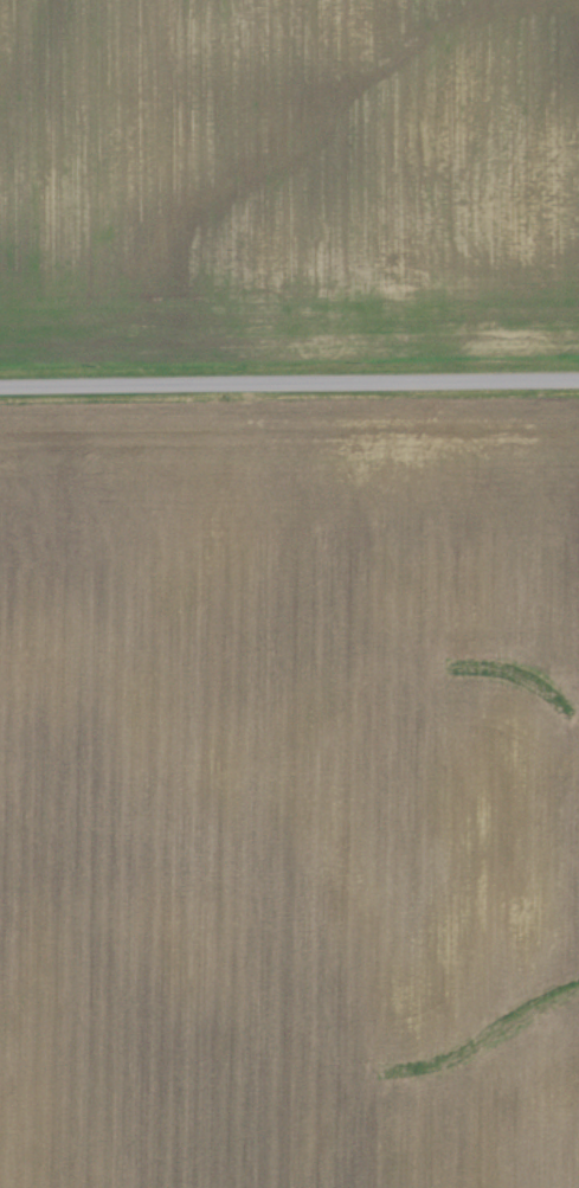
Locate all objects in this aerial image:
road: (289, 383)

